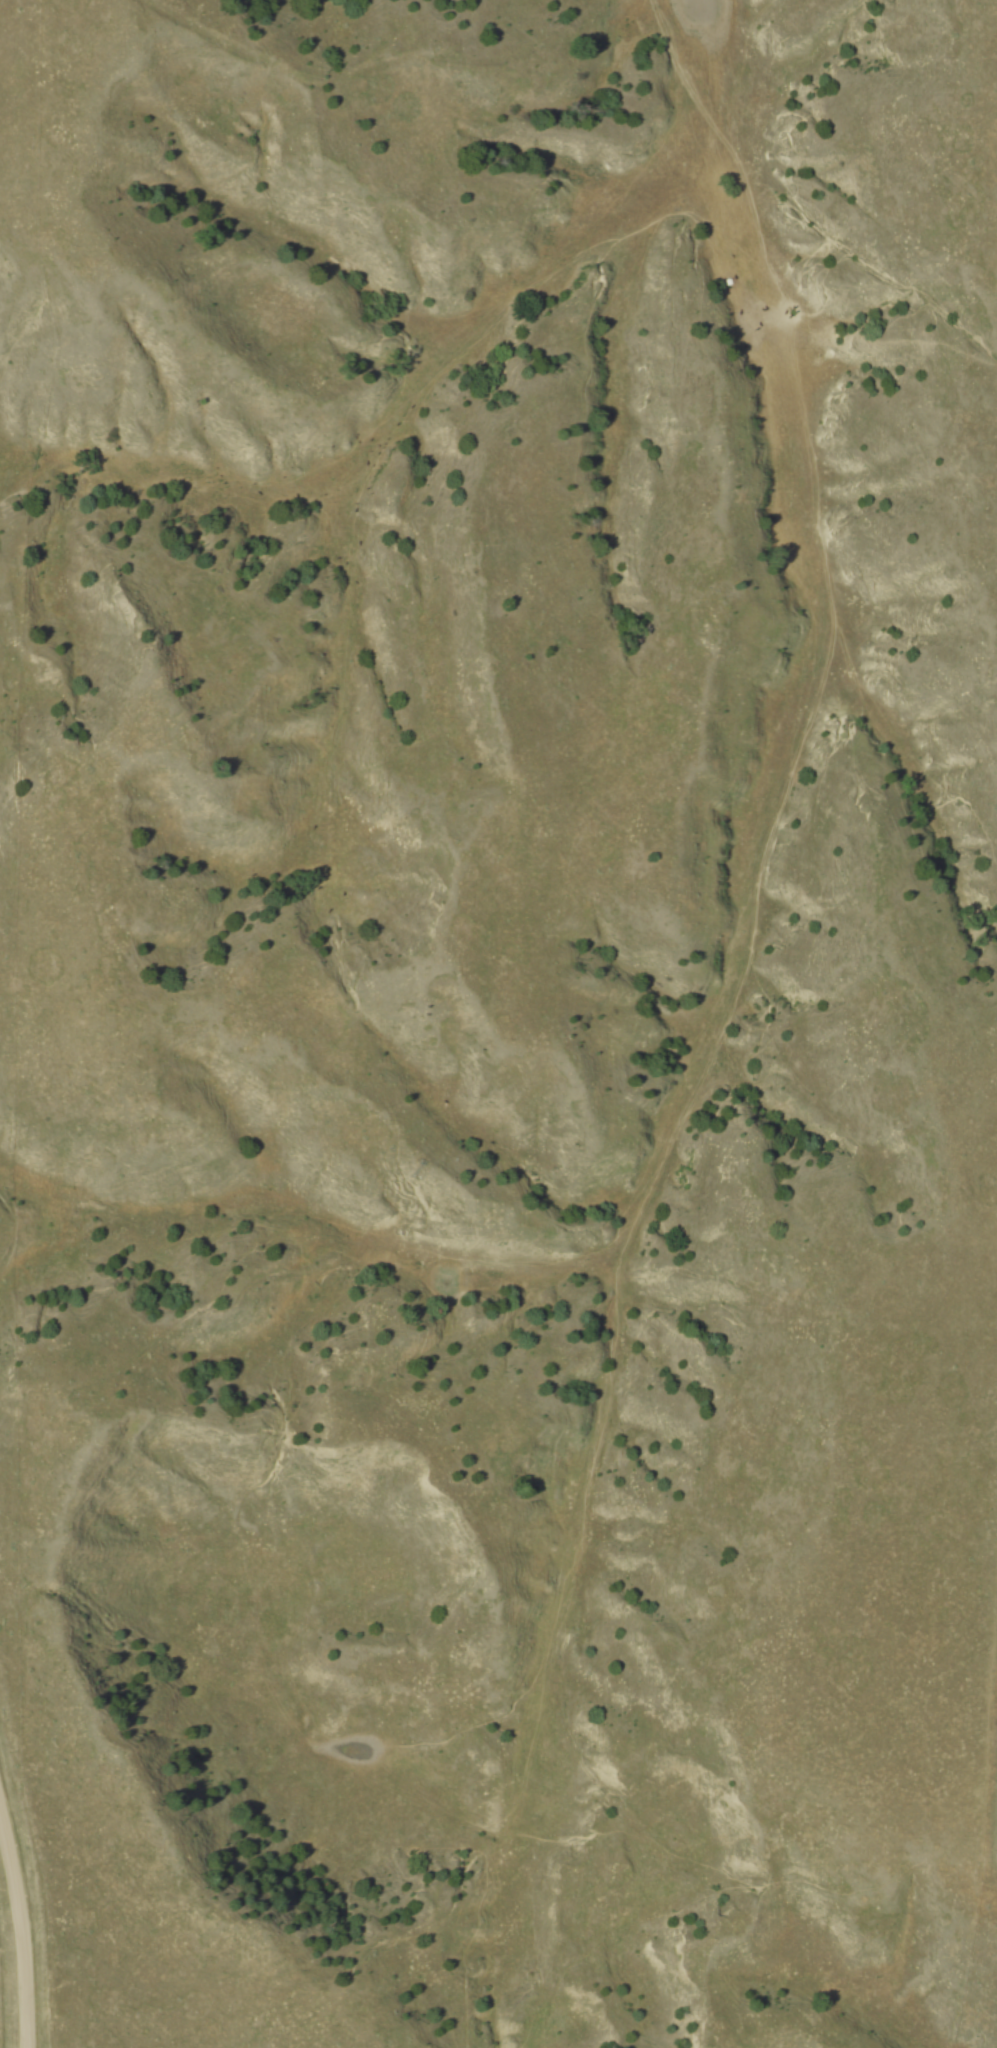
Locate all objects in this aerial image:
road: (25, 1926)

